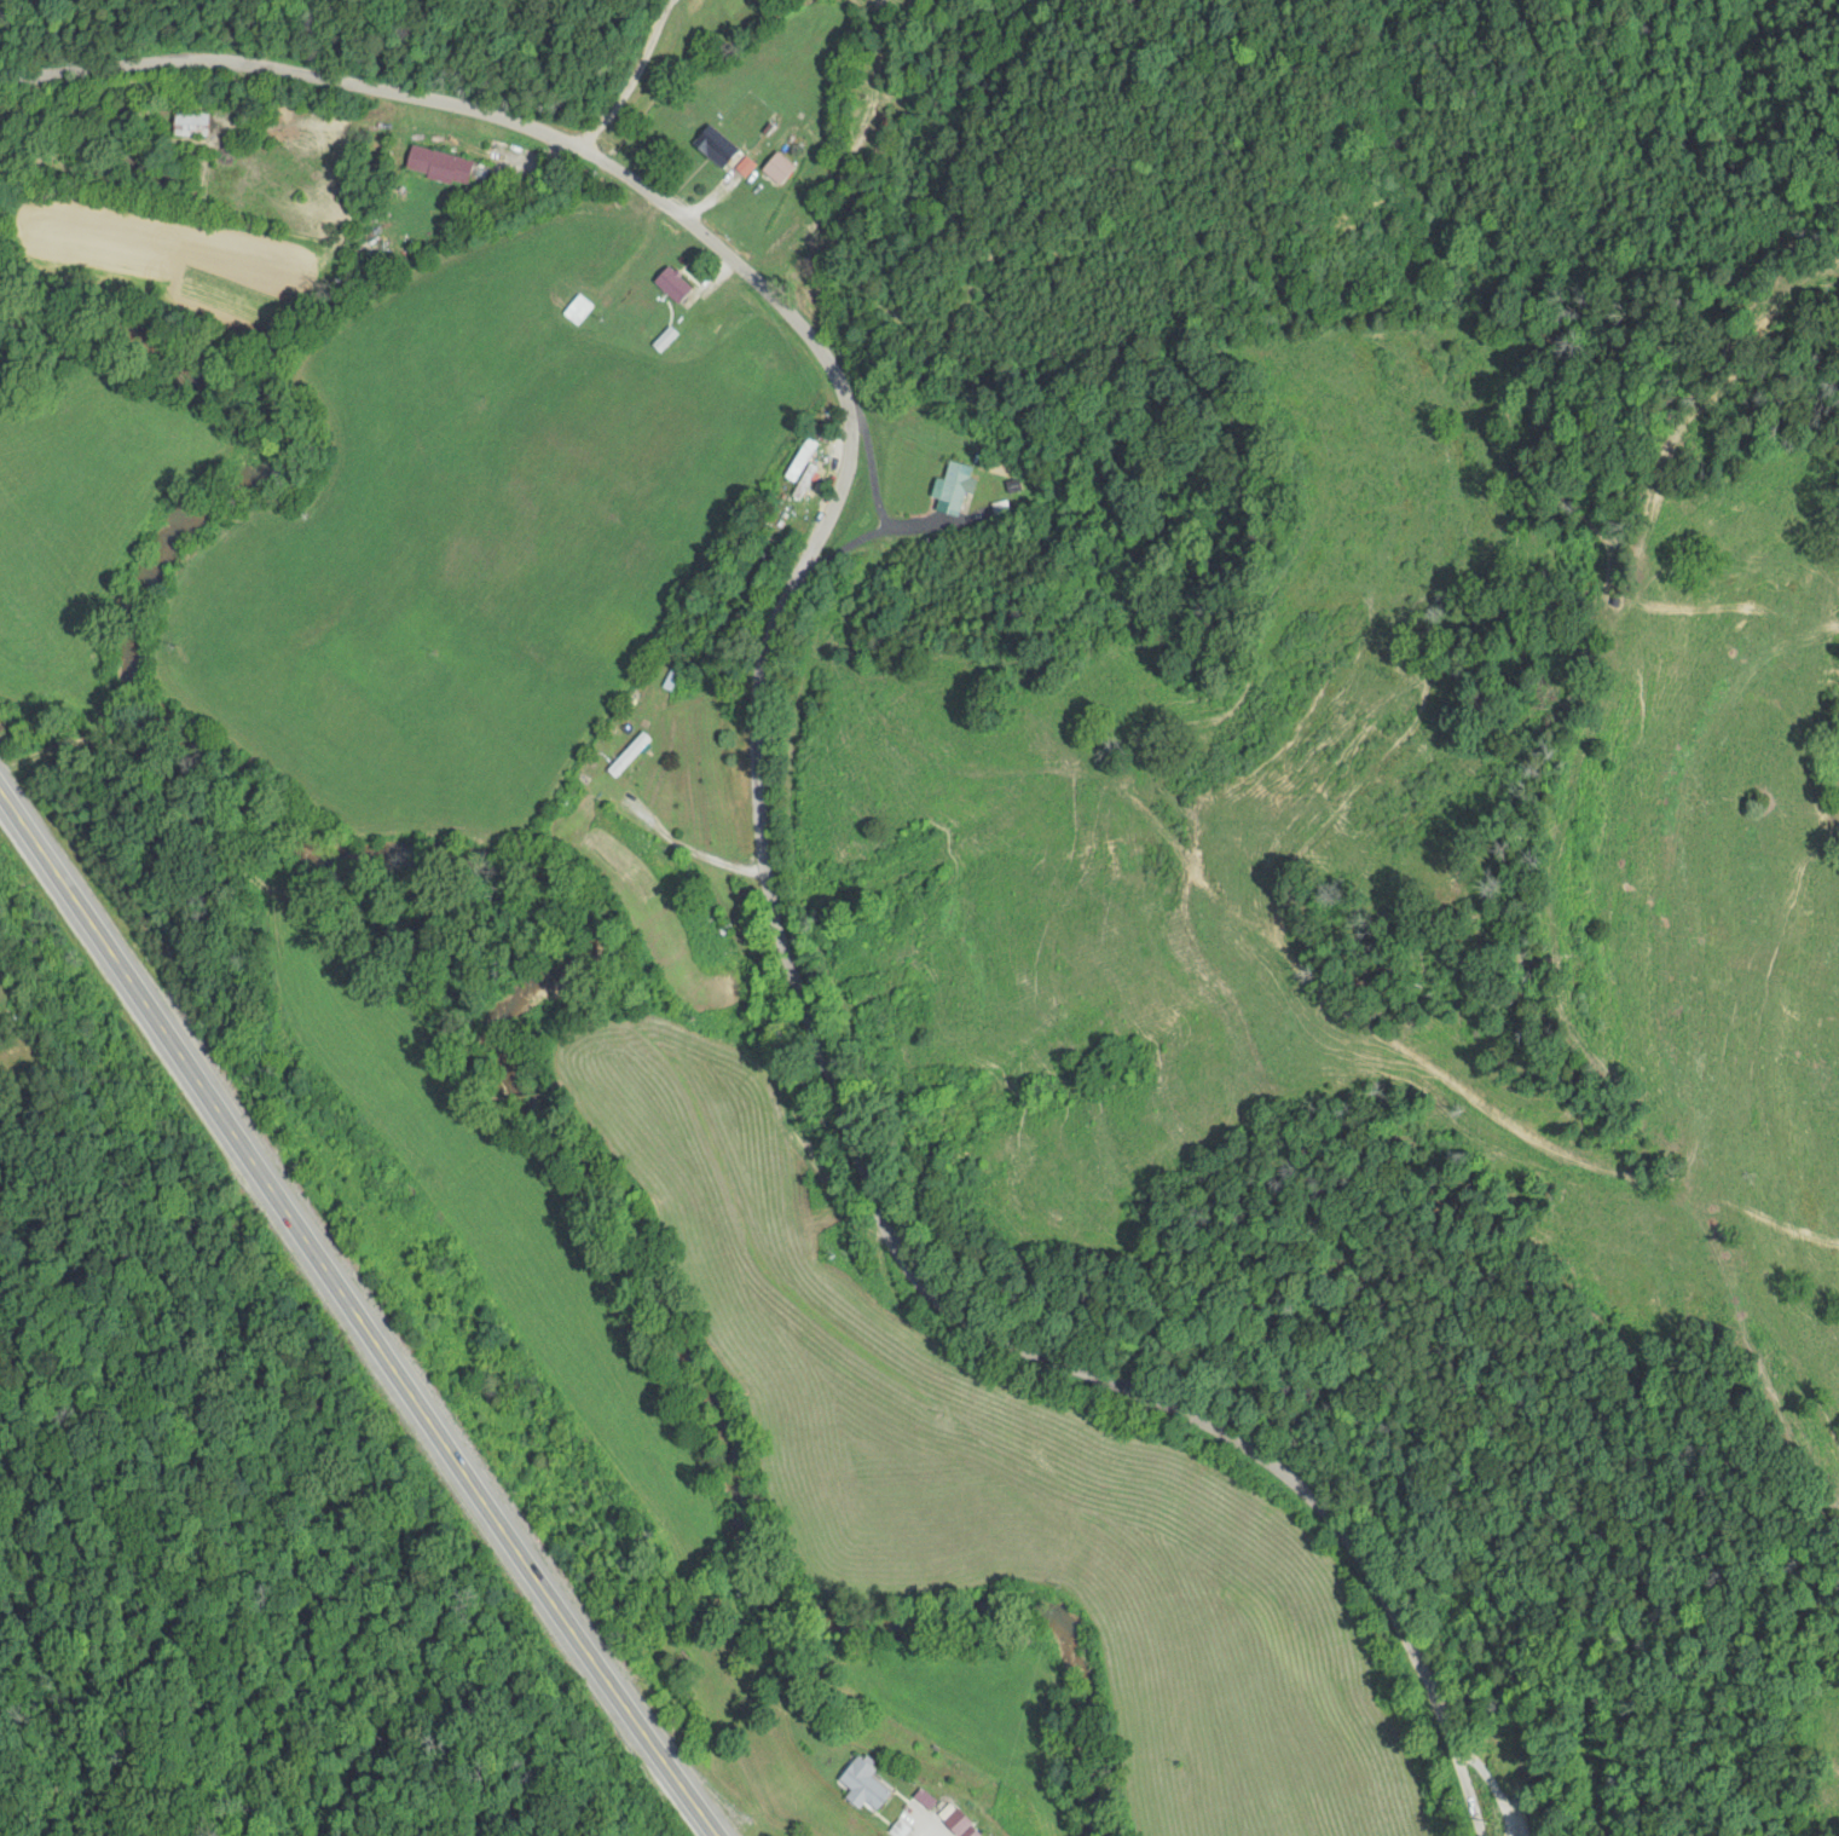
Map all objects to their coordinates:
road: (773, 780)
road: (360, 1314)

